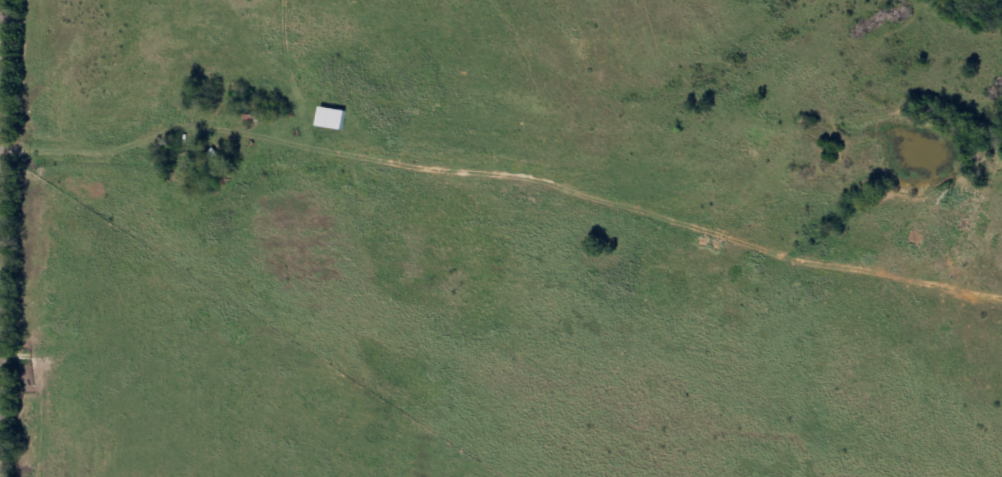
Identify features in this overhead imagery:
building: (336, 119)
power tower: (952, 200)

